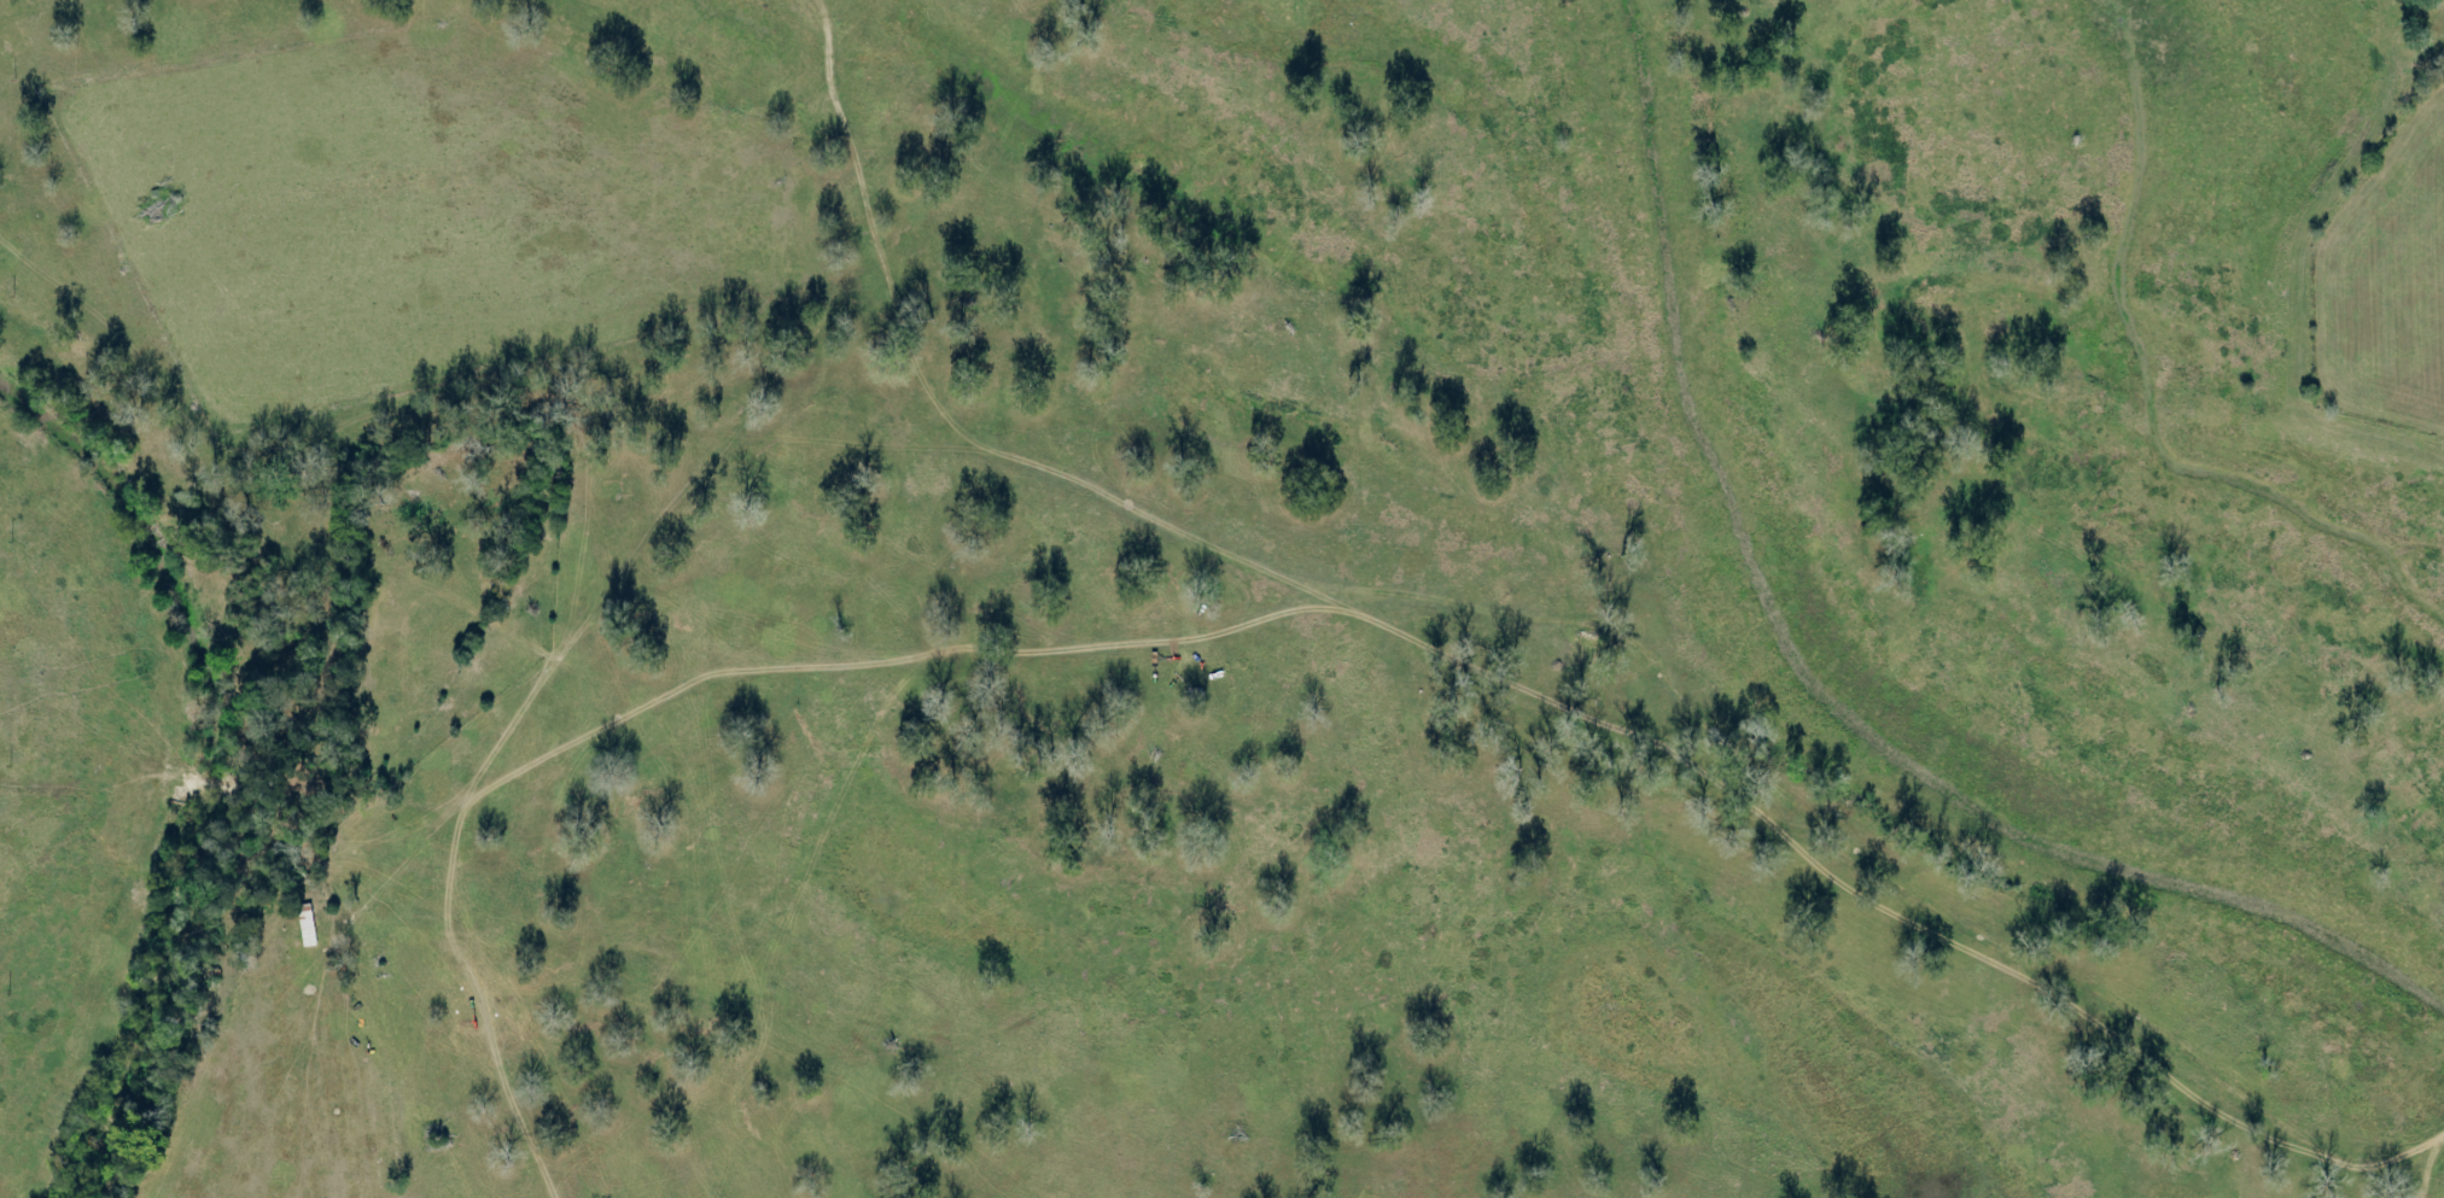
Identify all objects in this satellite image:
road: (1469, 709)
road: (661, 972)
road: (222, 989)

